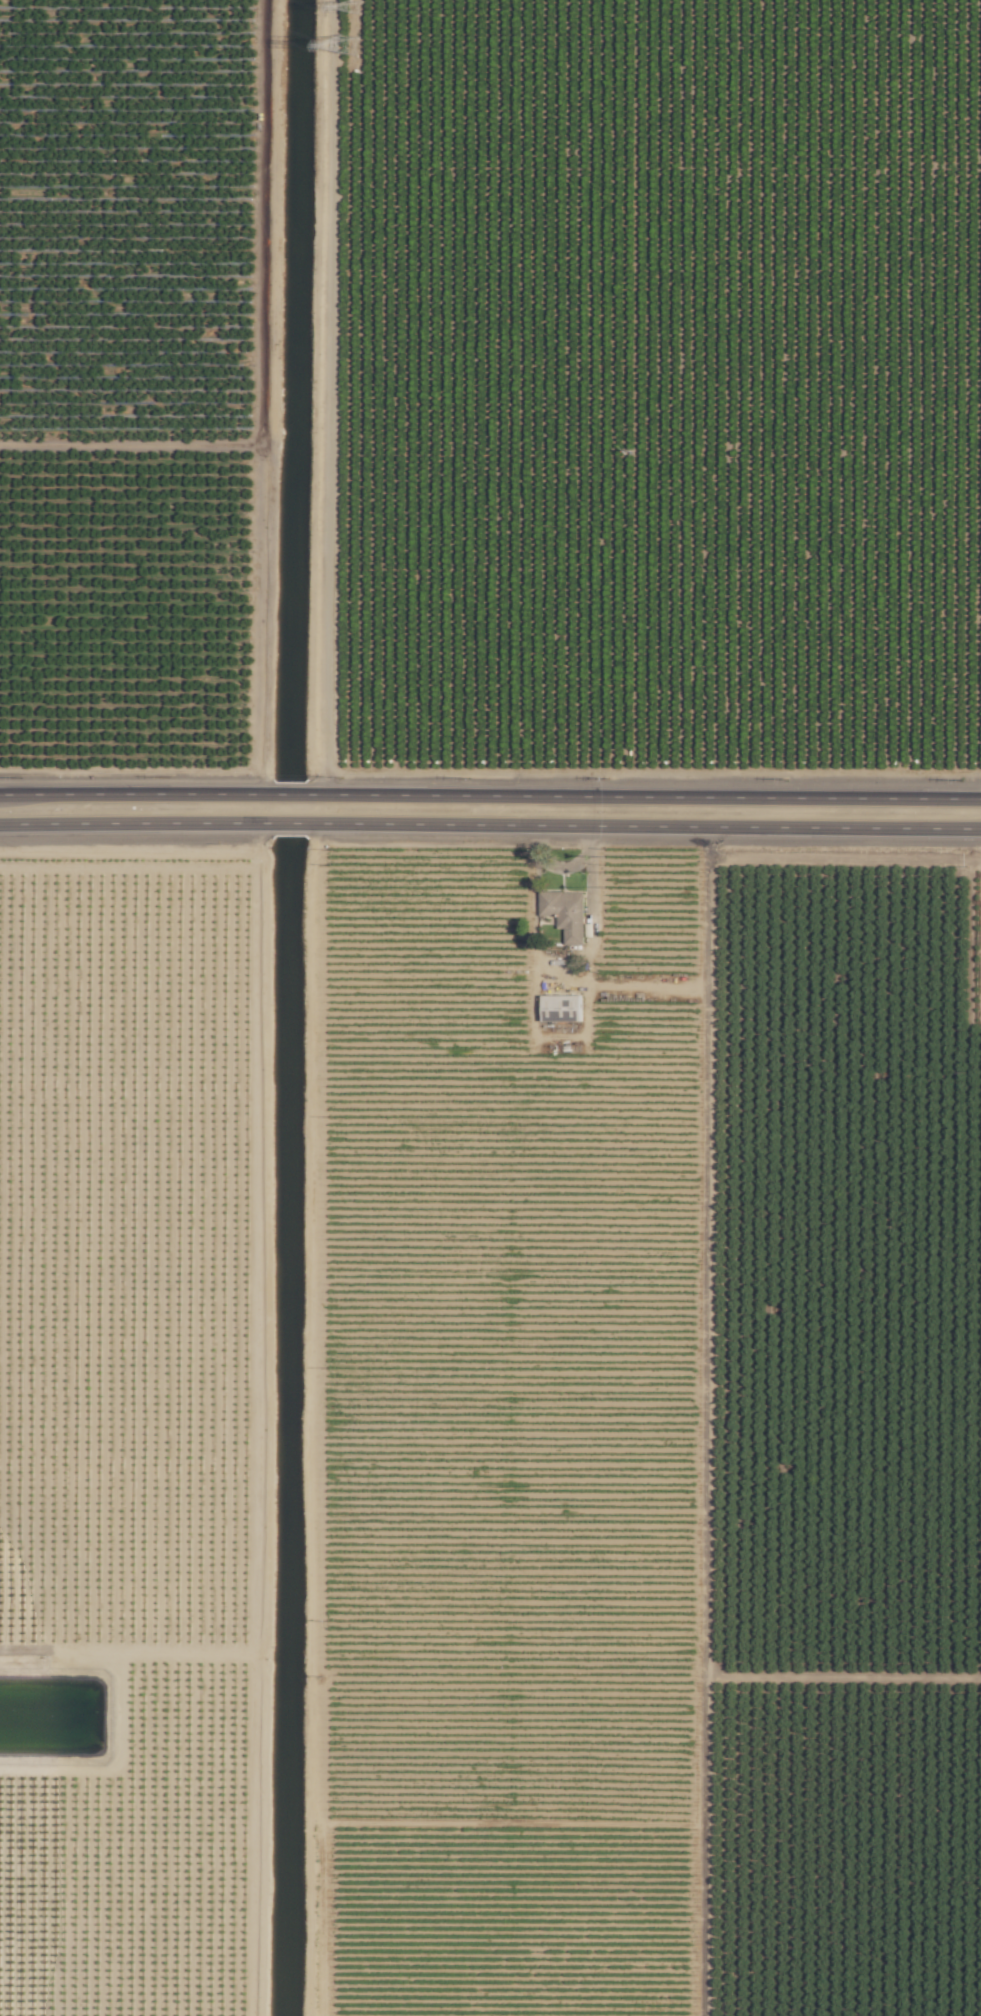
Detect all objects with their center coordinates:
power tower: (355, 7)
power tower: (348, 46)
road: (135, 794)
road: (289, 794)
road: (644, 797)
road: (135, 823)
road: (290, 823)
road: (644, 826)
building: (566, 913)
building: (561, 1008)

